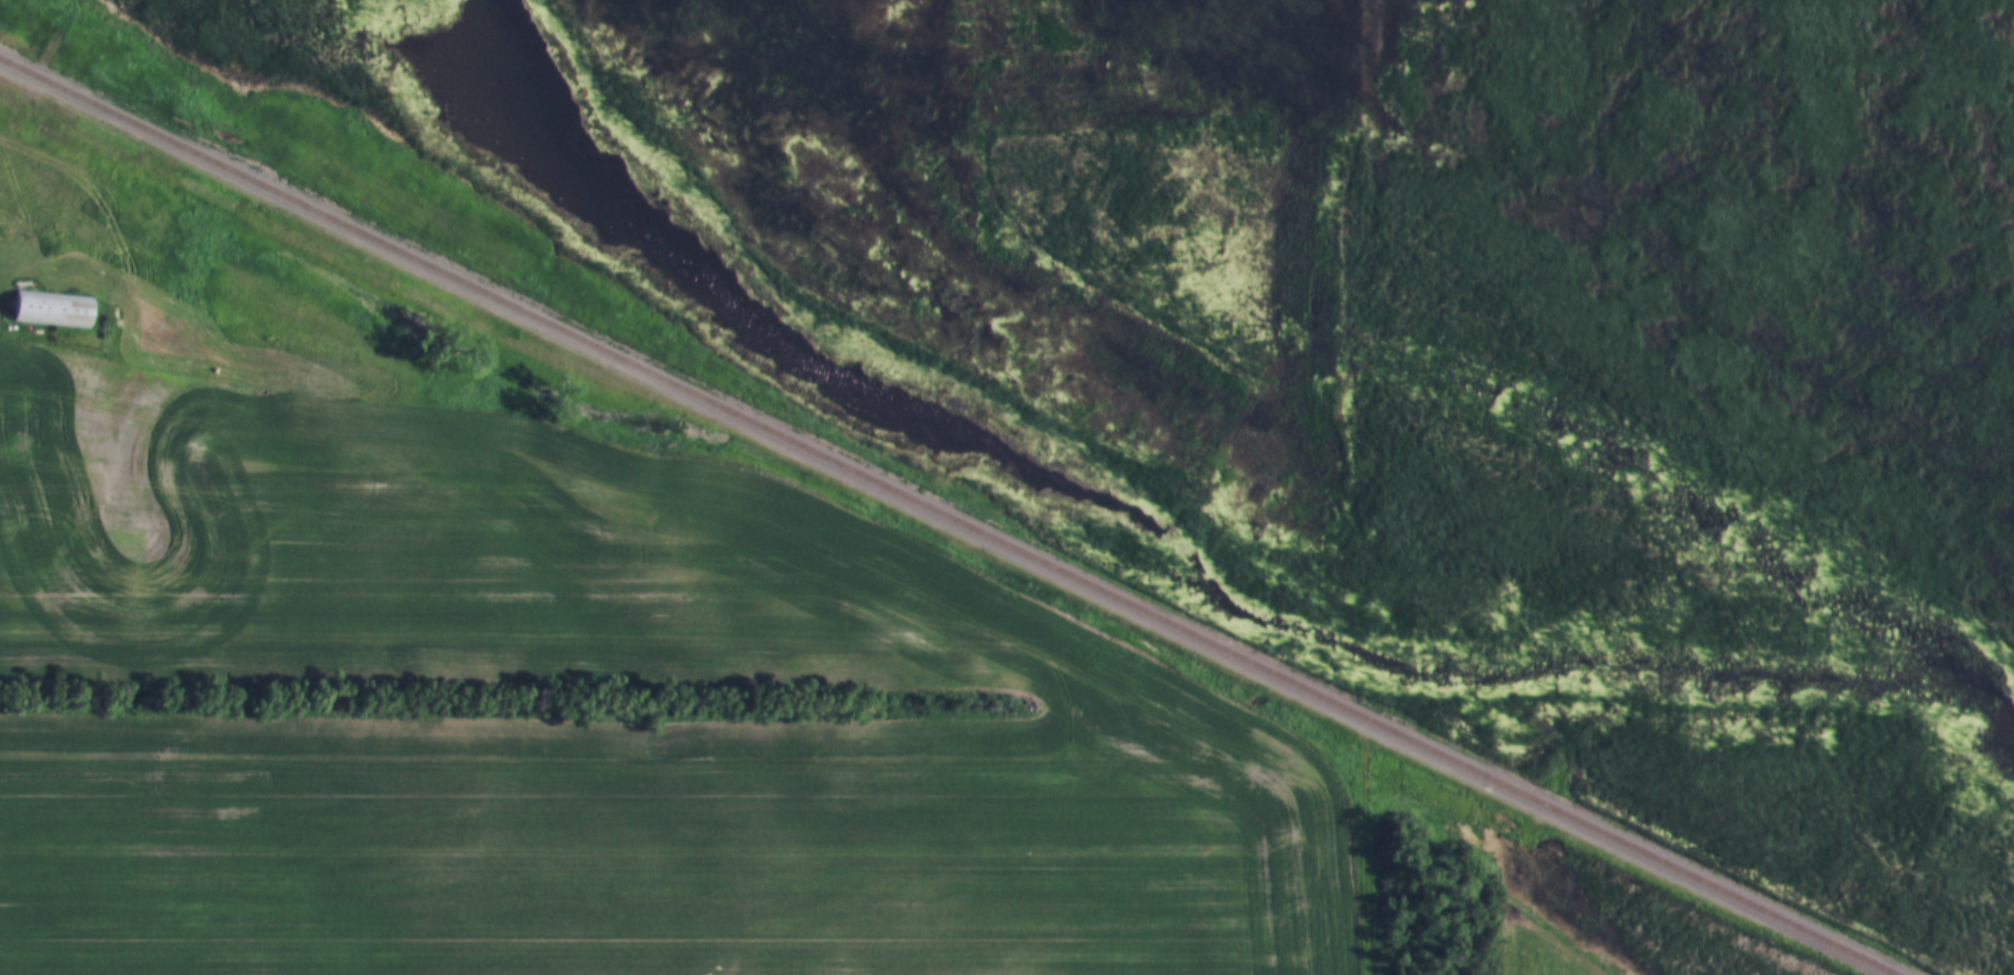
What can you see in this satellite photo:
road: (13, 120)
building: (51, 311)
railway: (945, 518)
river: (1166, 566)
road: (1370, 868)

